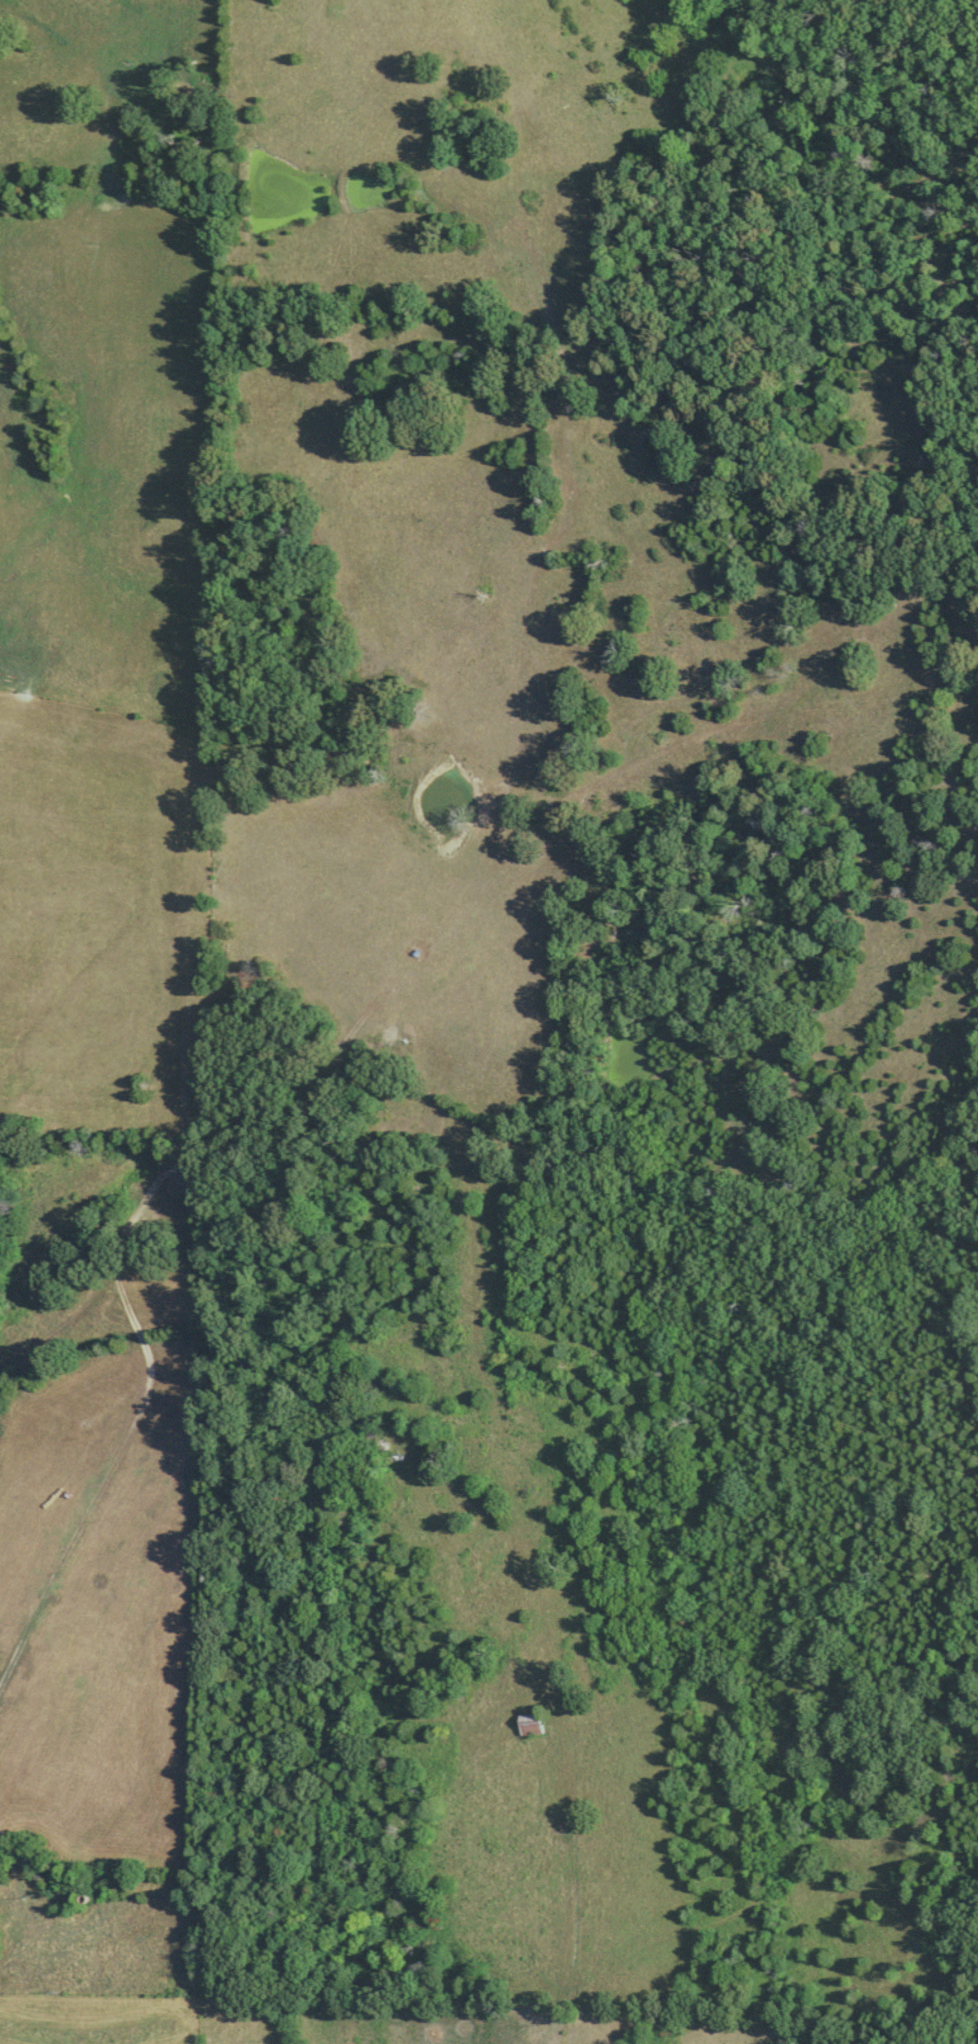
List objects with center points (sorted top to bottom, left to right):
building: (529, 1723)
building: (60, 1890)
road: (2, 1950)

